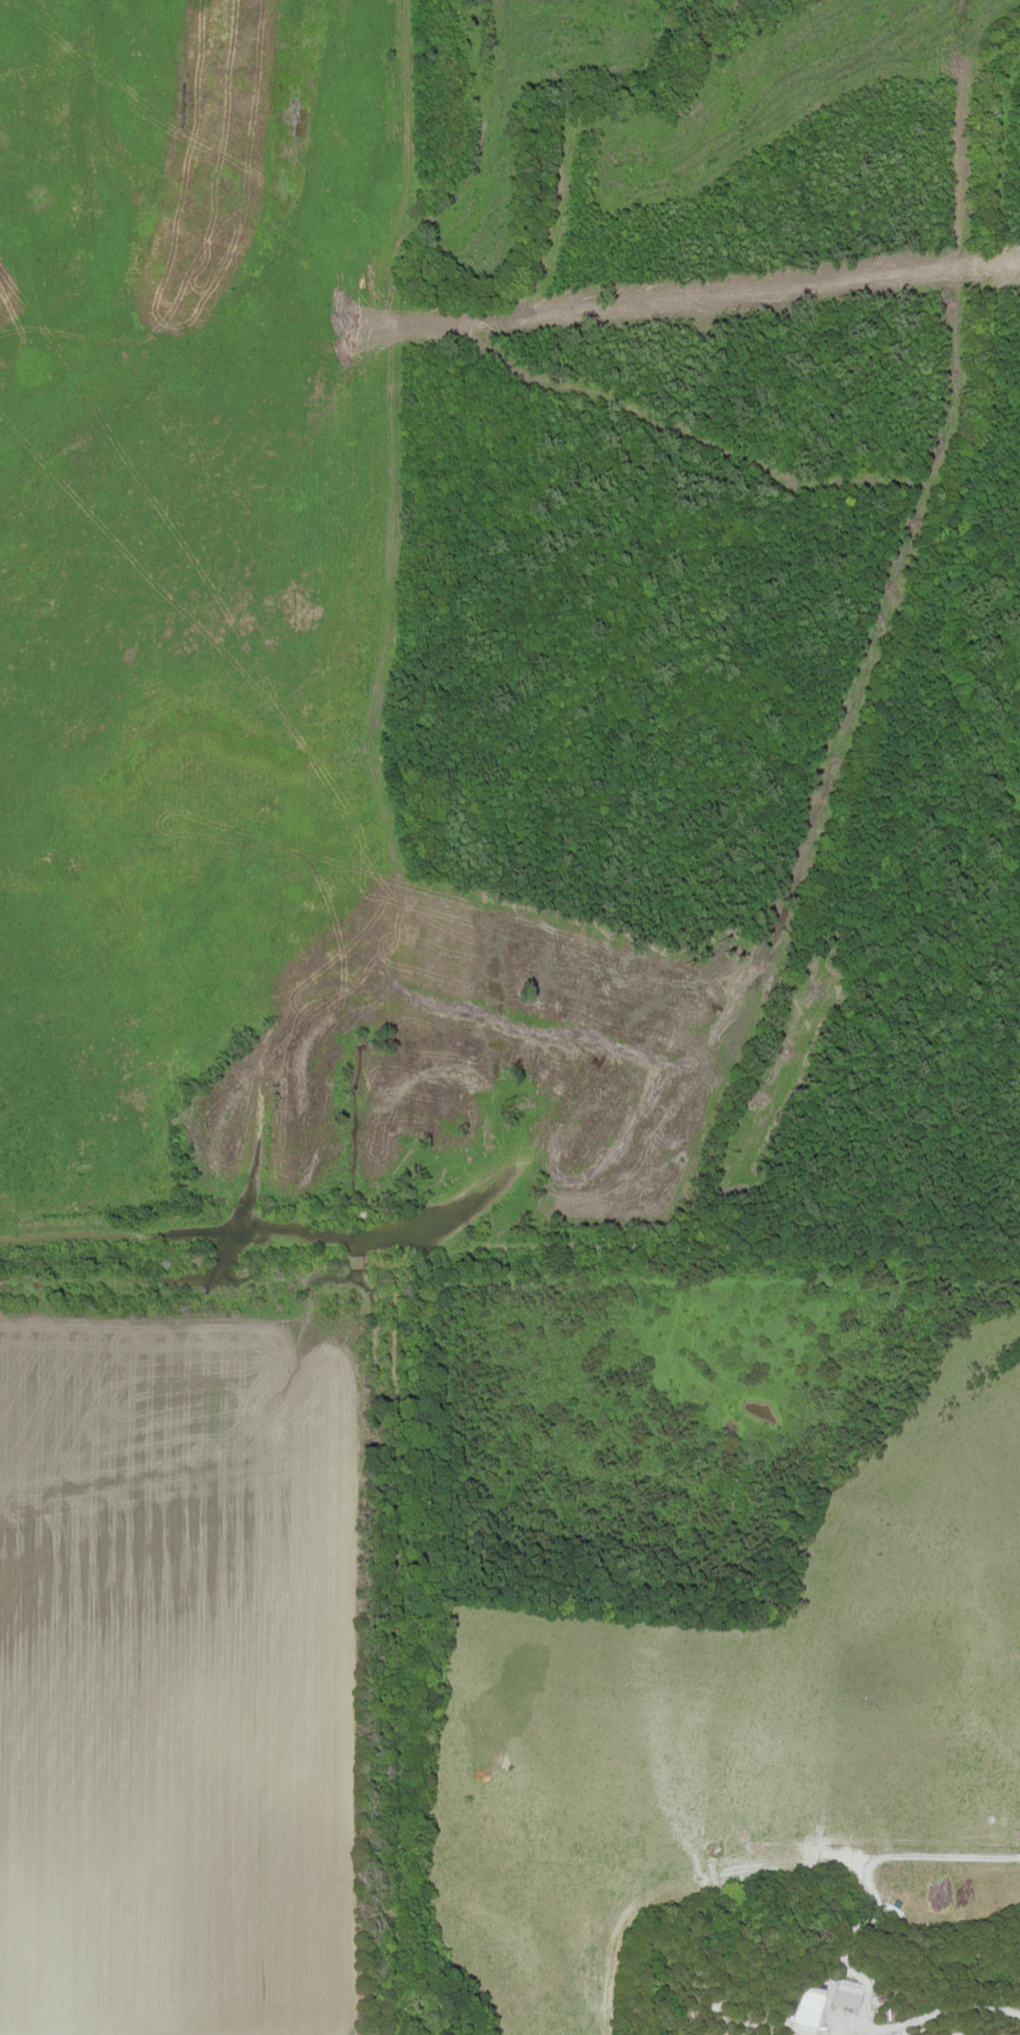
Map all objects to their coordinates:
building: (844, 1993)
building: (804, 2005)
road: (941, 2013)

